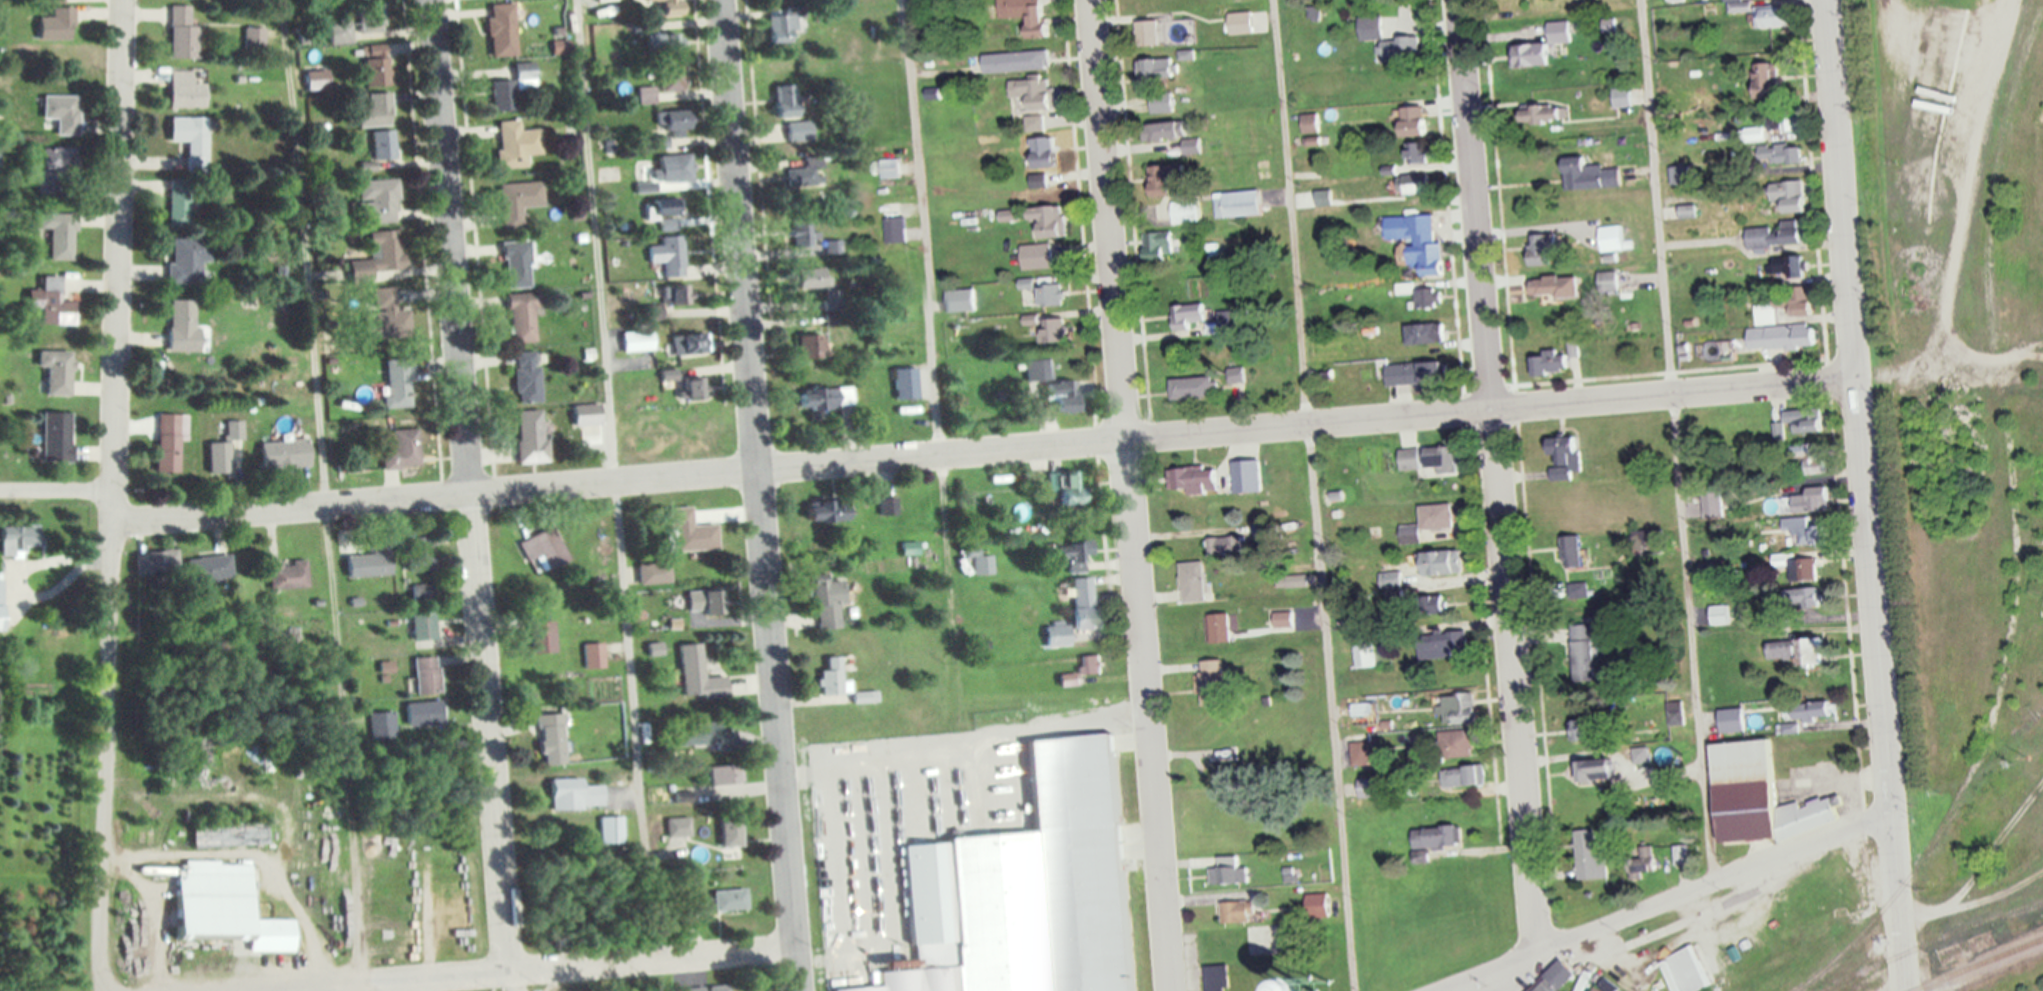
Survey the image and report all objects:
building: (1675, 0)
building: (54, 1)
building: (1512, 4)
building: (666, 7)
building: (1025, 14)
building: (1771, 17)
building: (1239, 23)
building: (356, 24)
building: (55, 25)
building: (782, 25)
building: (1370, 28)
building: (501, 30)
building: (1147, 33)
building: (181, 34)
building: (253, 39)
building: (661, 44)
building: (1767, 44)
building: (1542, 46)
building: (1015, 62)
building: (375, 66)
building: (1161, 68)
building: (671, 78)
building: (1769, 82)
building: (509, 89)
building: (184, 90)
building: (1033, 92)
building: (1627, 97)
building: (785, 101)
building: (1161, 103)
building: (375, 111)
building: (61, 113)
building: (1543, 114)
building: (675, 122)
building: (1413, 122)
building: (1310, 123)
building: (798, 131)
building: (1167, 131)
building: (189, 138)
building: (515, 145)
building: (382, 146)
building: (1043, 153)
building: (1416, 154)
building: (1782, 154)
building: (57, 161)
building: (889, 169)
building: (671, 170)
building: (807, 173)
building: (1590, 175)
building: (1680, 175)
building: (1165, 181)
building: (1790, 195)
building: (378, 202)
building: (517, 202)
building: (178, 203)
building: (1236, 204)
building: (662, 208)
building: (1687, 211)
building: (1185, 212)
building: (1048, 222)
building: (894, 231)
building: (803, 233)
building: (1777, 235)
building: (1614, 239)
building: (59, 241)
building: (1417, 241)
building: (1158, 245)
building: (1539, 254)
building: (668, 257)
building: (1036, 257)
building: (379, 260)
building: (186, 261)
building: (516, 265)
building: (1790, 268)
building: (809, 280)
building: (1608, 282)
building: (1553, 287)
building: (1050, 295)
building: (676, 296)
building: (1427, 299)
building: (959, 301)
building: (50, 304)
building: (651, 313)
building: (388, 316)
building: (1186, 316)
building: (520, 318)
building: (1784, 322)
building: (182, 326)
building: (1424, 335)
road: (931, 337)
building: (636, 342)
building: (688, 345)
building: (809, 347)
building: (1549, 364)
building: (55, 372)
building: (1397, 375)
building: (526, 378)
building: (906, 384)
building: (397, 385)
building: (693, 389)
building: (1193, 389)
building: (825, 399)
building: (585, 415)
building: (1806, 421)
building: (55, 437)
building: (530, 437)
road: (1674, 440)
building: (169, 442)
road: (982, 447)
building: (402, 451)
building: (286, 454)
building: (222, 458)
building: (1564, 458)
building: (1813, 458)
building: (1427, 460)
road: (1497, 476)
building: (1246, 477)
road: (614, 479)
building: (1195, 481)
road: (466, 486)
road: (56, 491)
road: (322, 491)
building: (1069, 492)
road: (112, 495)
road: (759, 495)
road: (1130, 495)
road: (1309, 495)
road: (1863, 495)
building: (1813, 501)
building: (888, 507)
building: (827, 512)
building: (1427, 523)
railway: (2013, 526)
building: (1805, 531)
building: (689, 533)
building: (17, 541)
building: (1649, 542)
building: (543, 551)
building: (1570, 553)
building: (418, 555)
building: (1076, 555)
building: (166, 559)
building: (368, 564)
building: (983, 564)
building: (1441, 564)
building: (209, 569)
building: (1804, 570)
building: (287, 575)
building: (1192, 583)
building: (1804, 597)
building: (705, 602)
building: (827, 602)
building: (1084, 604)
building: (0, 605)
building: (1431, 606)
building: (1720, 615)
building: (1282, 620)
building: (422, 627)
building: (1219, 629)
building: (541, 632)
building: (1057, 636)
building: (1441, 645)
building: (1783, 651)
building: (1583, 653)
building: (1813, 653)
building: (1363, 655)
building: (593, 656)
building: (1090, 665)
building: (697, 675)
building: (425, 676)
building: (833, 679)
building: (1069, 680)
building: (1211, 684)
building: (1463, 709)
building: (1359, 710)
building: (1812, 711)
building: (1675, 713)
building: (423, 714)
building: (1731, 721)
building: (381, 723)
building: (697, 735)
building: (551, 739)
building: (1455, 744)
building: (1362, 754)
building: (726, 777)
building: (1463, 777)
building: (1372, 787)
building: (574, 795)
building: (1762, 798)
building: (676, 827)
building: (610, 830)
building: (730, 832)
building: (227, 836)
building: (1436, 838)
building: (1588, 857)
building: (1641, 868)
building: (1228, 872)
building: (1025, 890)
building: (728, 901)
road: (1662, 901)
building: (691, 904)
building: (1316, 905)
building: (224, 909)
building: (1237, 913)
railway: (1931, 942)
building: (1963, 949)
building: (1737, 952)
railway: (1979, 965)
road: (528, 970)
building: (1685, 970)
building: (1216, 978)
building: (1549, 983)
building: (1318, 984)
building: (719, 988)
building: (689, 989)
building: (1595, 989)

